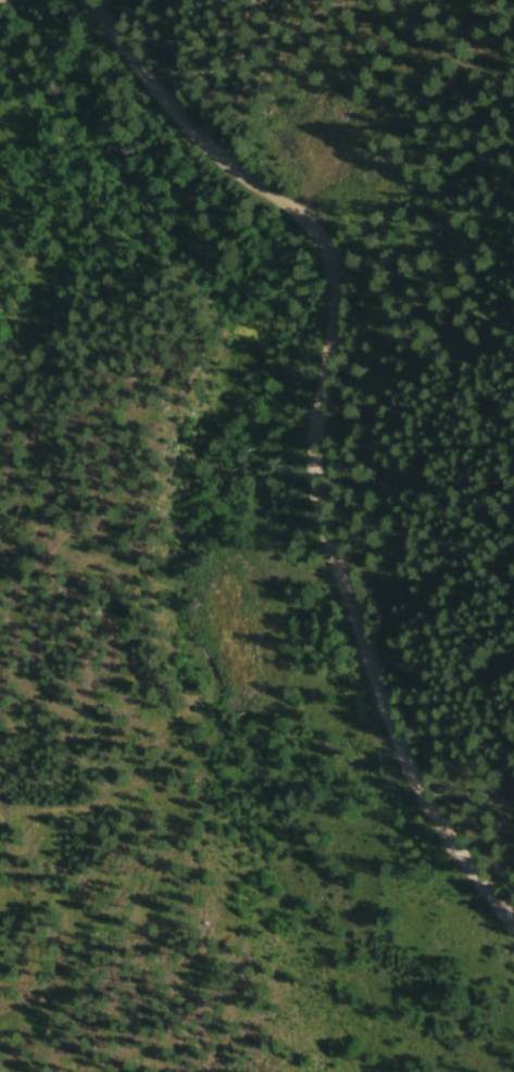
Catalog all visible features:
road: (3, 0)
road: (279, 288)
road: (313, 436)
road: (84, 456)
road: (238, 836)

